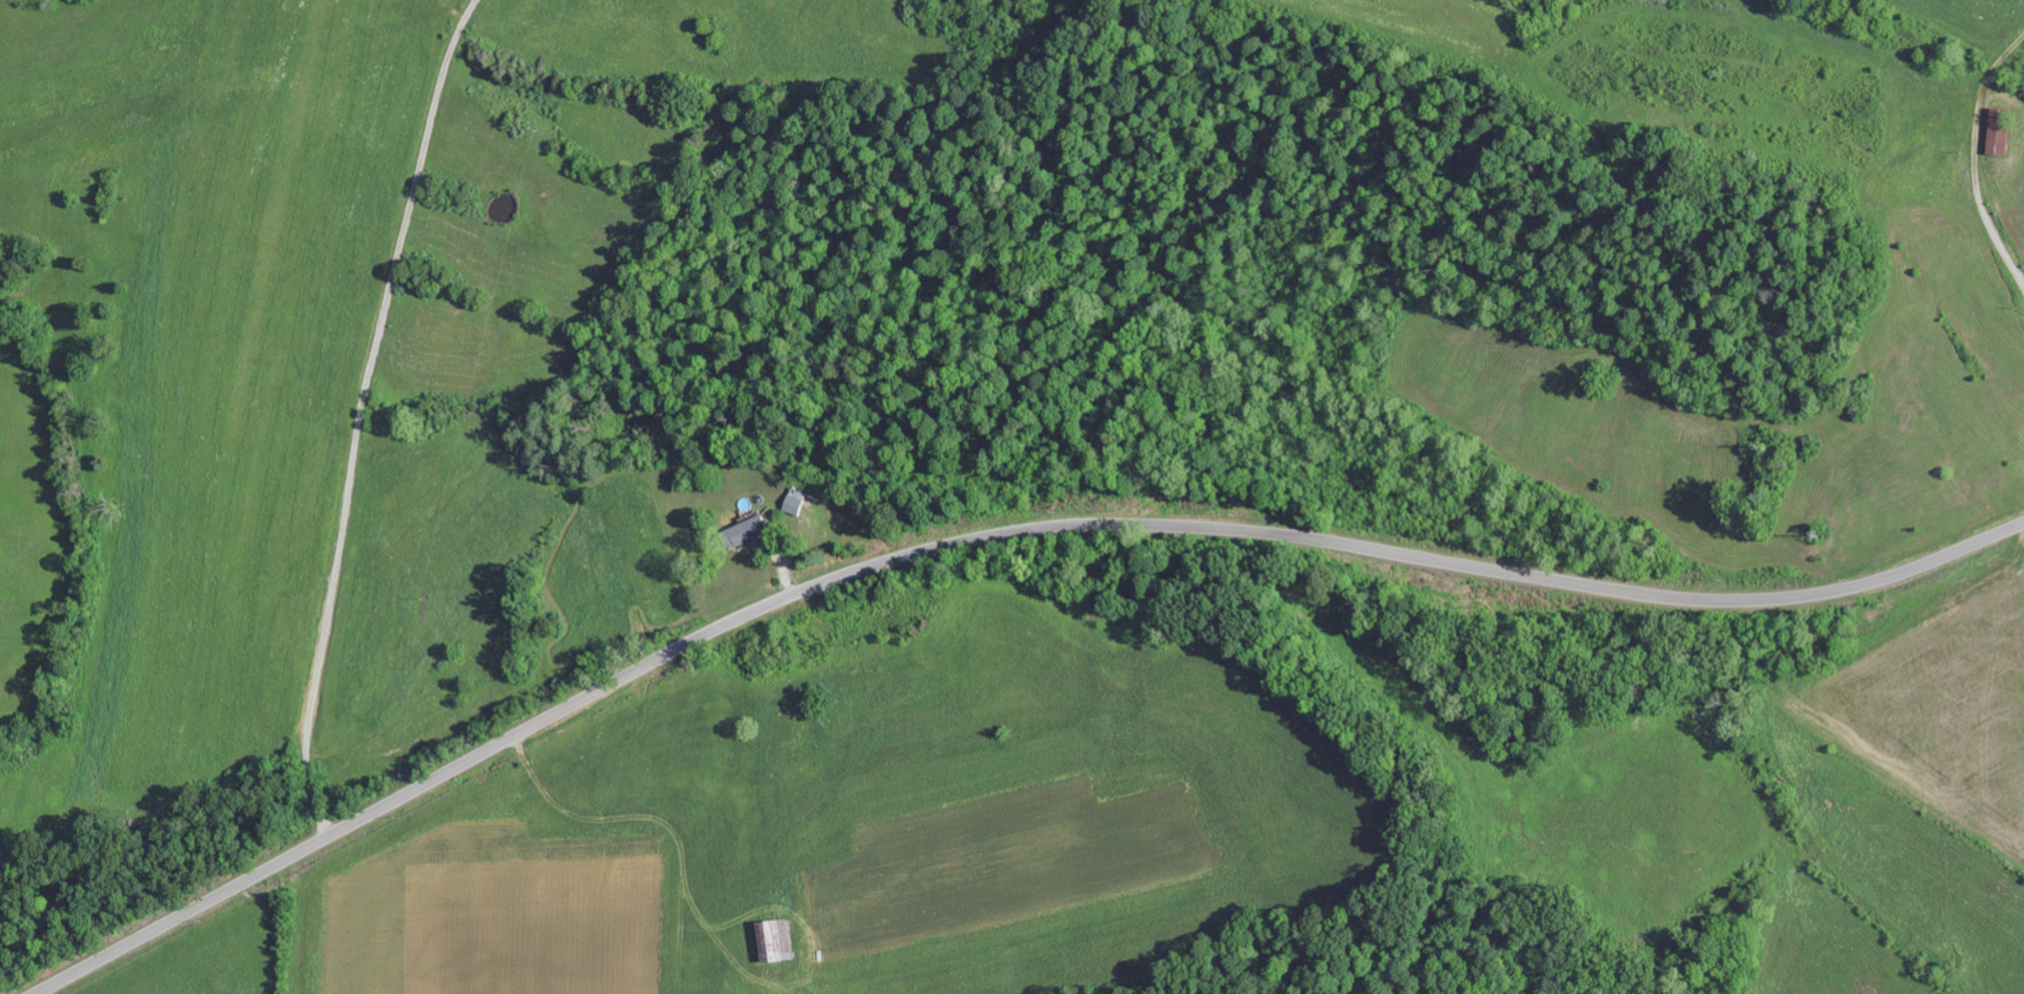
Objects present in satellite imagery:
building: (1997, 131)
road: (1972, 152)
road: (359, 415)
building: (795, 502)
building: (743, 532)
road: (985, 539)
building: (772, 939)

